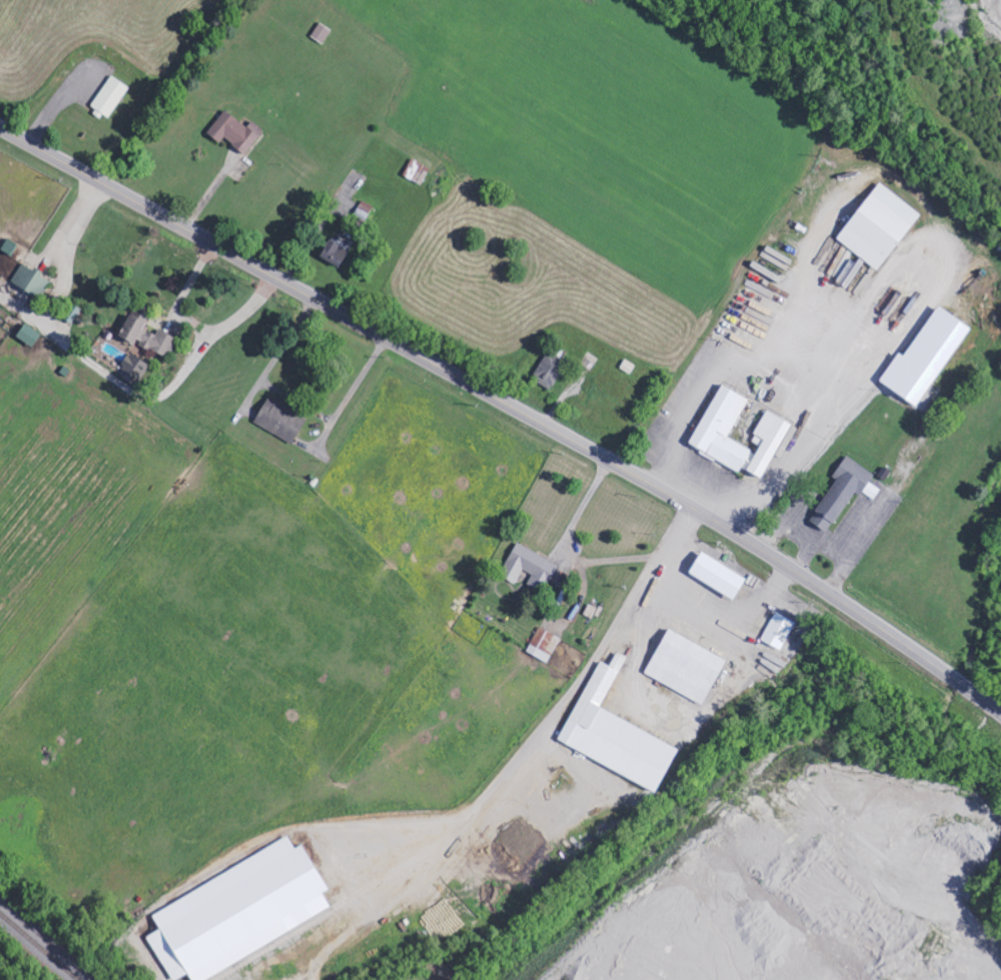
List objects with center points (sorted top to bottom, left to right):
building: (110, 97)
building: (236, 132)
building: (419, 172)
building: (879, 226)
building: (336, 253)
building: (30, 279)
road: (357, 322)
building: (29, 335)
building: (148, 337)
building: (926, 357)
building: (134, 369)
building: (551, 369)
building: (281, 419)
building: (715, 430)
building: (844, 493)
building: (531, 568)
building: (718, 576)
road: (858, 614)
building: (779, 631)
building: (544, 645)
building: (686, 667)
building: (616, 734)
park: (990, 888)
building: (239, 912)
railway: (47, 939)
railway: (39, 946)

